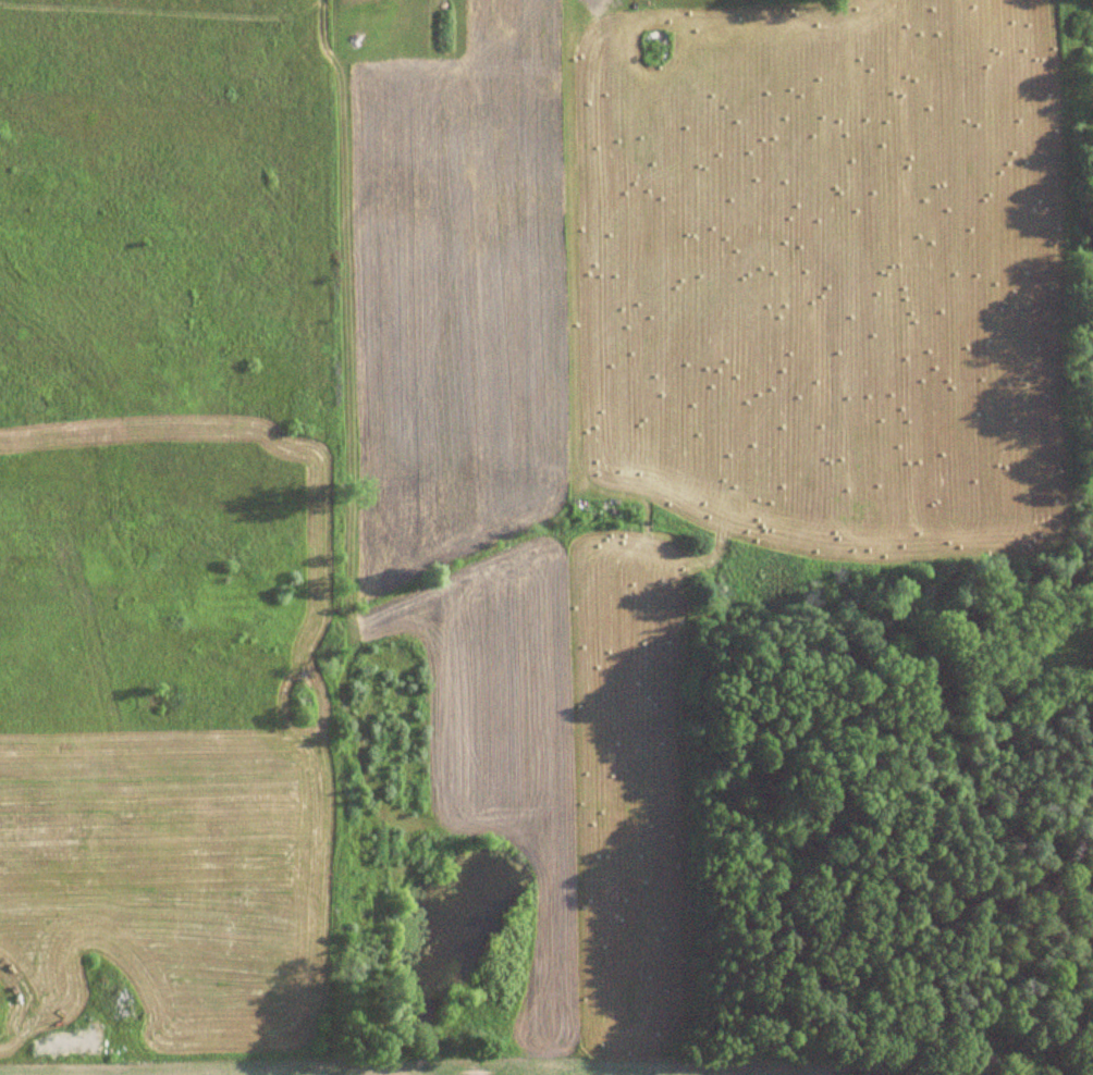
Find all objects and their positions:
crop: (451, 1067)

